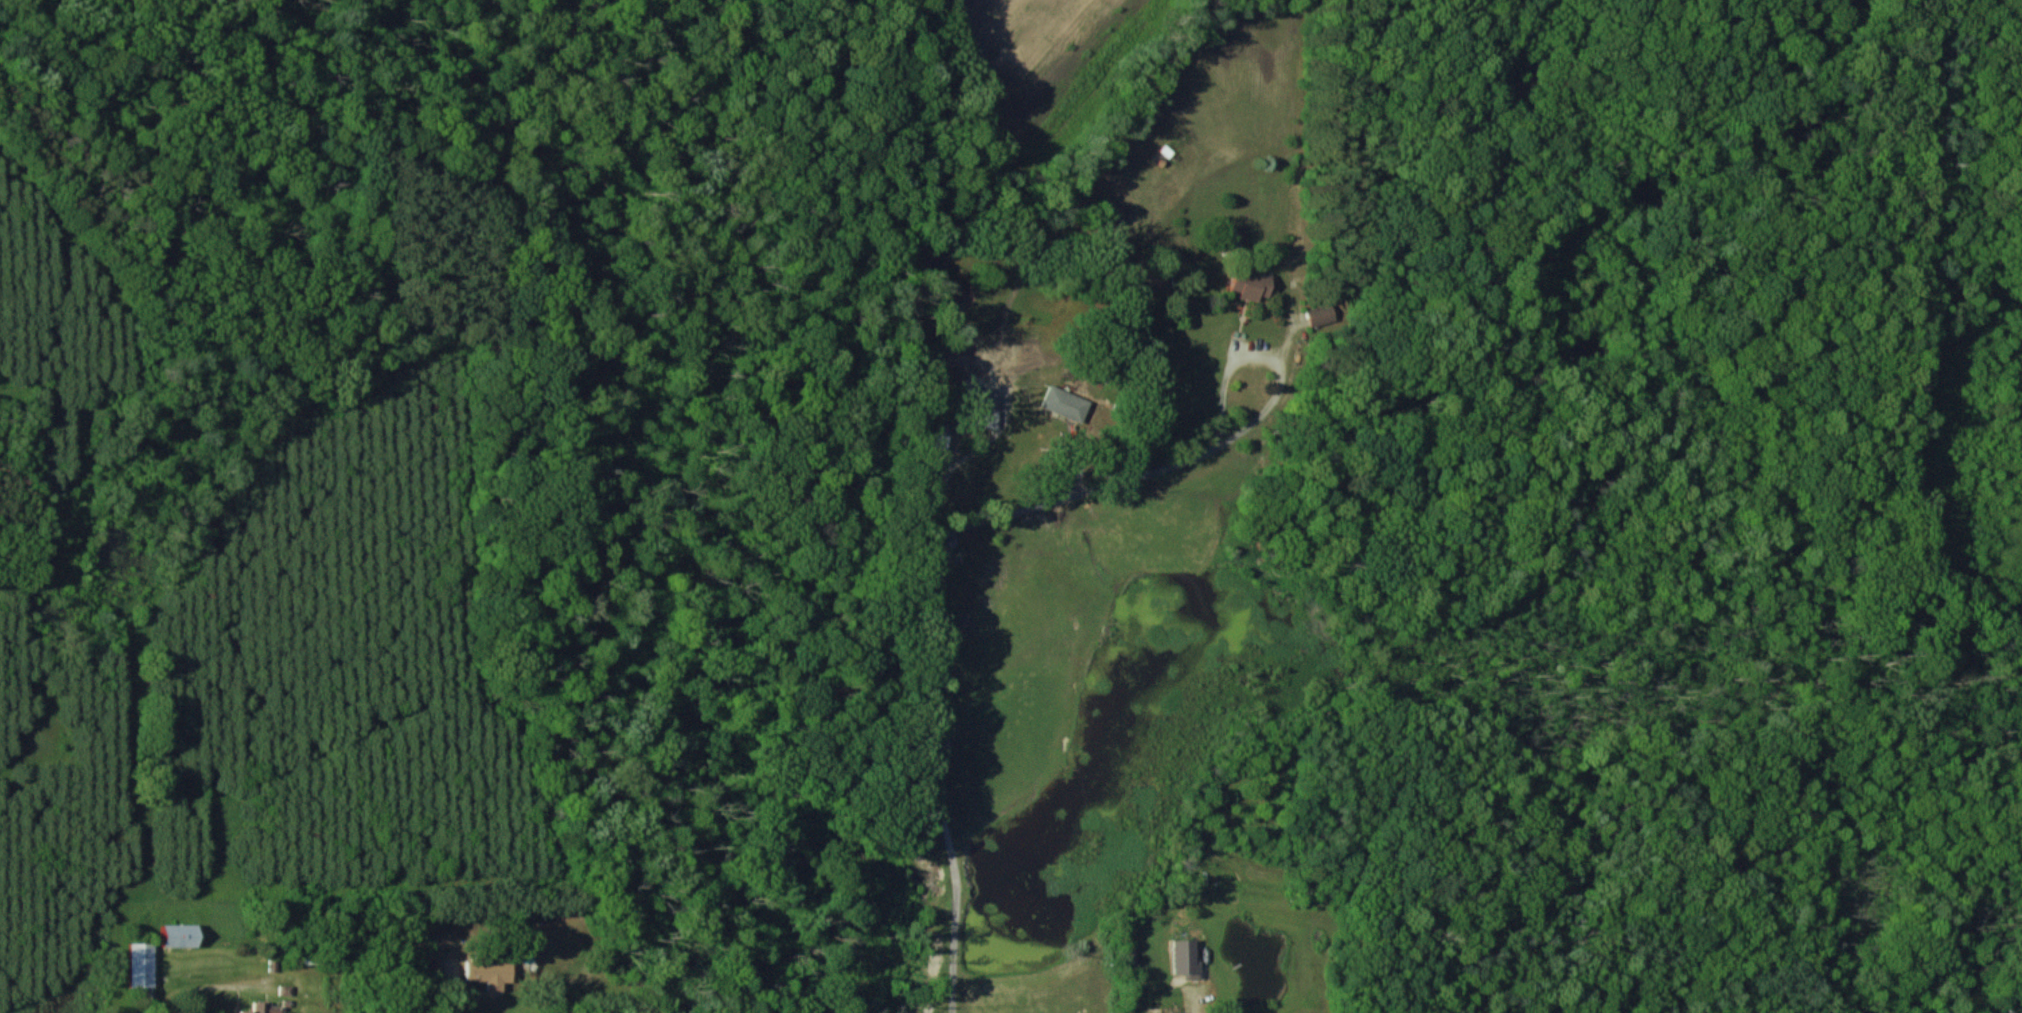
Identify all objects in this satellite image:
building: (1248, 283)
building: (1320, 314)
road: (1268, 357)
building: (1063, 403)
building: (985, 418)
building: (935, 435)
road: (923, 630)
building: (177, 934)
building: (1183, 958)
building: (140, 964)
building: (487, 972)
road: (203, 982)
road: (453, 989)
building: (264, 1007)
building: (1165, 1012)

